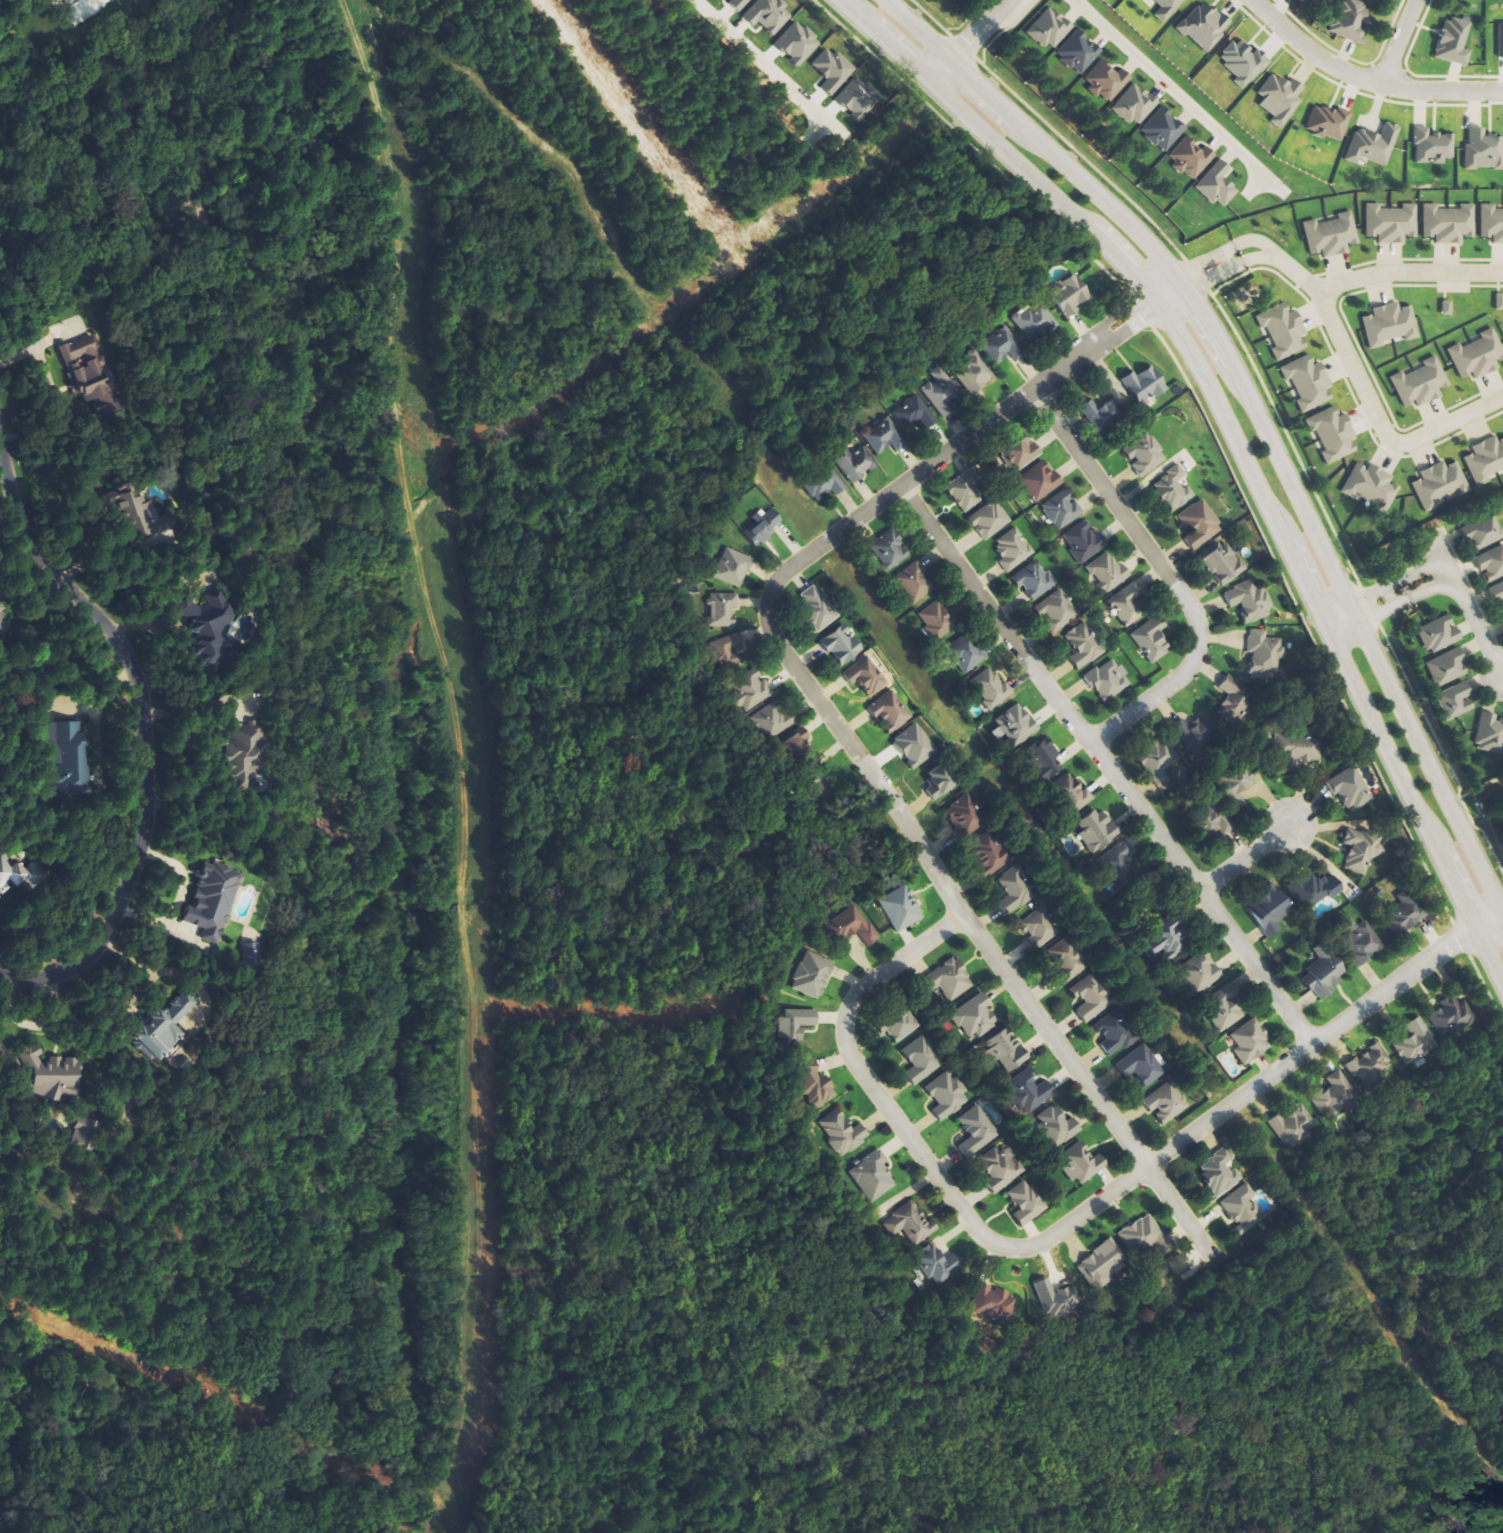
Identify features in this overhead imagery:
building: (739, 3)
building: (1167, 9)
road: (921, 12)
building: (769, 15)
building: (1350, 20)
building: (1204, 26)
building: (1049, 29)
building: (1500, 40)
building: (1453, 41)
road: (967, 42)
road: (1394, 42)
building: (797, 43)
building: (1078, 53)
building: (1243, 62)
building: (833, 70)
building: (1106, 80)
road: (1363, 80)
road: (1173, 95)
building: (1279, 98)
building: (858, 99)
building: (1134, 105)
building: (1328, 122)
building: (1162, 129)
building: (1372, 145)
building: (1432, 146)
building: (1483, 150)
building: (1190, 158)
building: (1217, 185)
building: (1391, 223)
building: (1448, 223)
building: (1492, 223)
building: (1331, 235)
road: (1250, 249)
road: (1408, 272)
building: (1069, 296)
building: (1499, 302)
building: (1447, 308)
building: (1035, 320)
building: (1390, 324)
building: (1284, 331)
building: (1004, 346)
building: (1478, 356)
building: (976, 374)
building: (88, 376)
building: (1308, 383)
building: (1421, 384)
building: (1144, 385)
building: (942, 392)
building: (914, 413)
building: (1103, 414)
road: (1255, 415)
road: (1379, 424)
building: (1333, 434)
building: (884, 436)
road: (1236, 447)
building: (1022, 454)
building: (1145, 455)
building: (1486, 461)
building: (856, 462)
building: (1040, 481)
building: (825, 485)
building: (1439, 485)
building: (1372, 486)
building: (1172, 490)
building: (966, 492)
building: (1062, 509)
building: (137, 511)
building: (990, 520)
building: (1199, 525)
building: (763, 526)
building: (1483, 533)
building: (1084, 541)
building: (890, 550)
building: (1013, 550)
road: (1439, 551)
building: (1222, 563)
building: (1492, 565)
building: (733, 568)
road: (1440, 571)
road: (1166, 572)
building: (1107, 573)
building: (1034, 580)
building: (914, 583)
building: (1498, 596)
building: (1250, 601)
building: (1128, 606)
building: (818, 609)
building: (722, 610)
building: (1057, 611)
building: (937, 620)
building: (3, 622)
building: (212, 628)
building: (1439, 635)
building: (1152, 639)
building: (842, 646)
building: (1085, 646)
building: (1264, 653)
building: (729, 654)
building: (967, 654)
building: (1447, 668)
building: (866, 676)
building: (1109, 680)
building: (991, 689)
building: (752, 690)
building: (1233, 698)
building: (1456, 701)
road: (833, 711)
building: (891, 712)
building: (770, 721)
building: (1014, 726)
road: (140, 729)
building: (1197, 735)
building: (1490, 736)
building: (915, 746)
building: (250, 750)
building: (795, 750)
building: (1295, 751)
building: (67, 754)
road: (1109, 764)
building: (1162, 766)
building: (1057, 776)
building: (939, 783)
building: (1349, 789)
building: (963, 817)
building: (1216, 821)
building: (1096, 831)
building: (1362, 849)
building: (989, 854)
road: (1250, 856)
building: (1118, 860)
building: (17, 874)
building: (1016, 890)
building: (1315, 890)
building: (214, 901)
building: (901, 909)
building: (1271, 909)
building: (1406, 913)
road: (1502, 917)
building: (851, 926)
building: (1038, 928)
building: (1171, 938)
building: (1362, 944)
building: (1069, 960)
building: (1200, 973)
building: (1324, 973)
building: (813, 976)
building: (953, 979)
building: (1091, 998)
building: (1225, 1008)
building: (1453, 1017)
building: (976, 1018)
building: (796, 1024)
building: (901, 1027)
building: (165, 1029)
building: (1115, 1033)
building: (1250, 1042)
building: (1415, 1042)
building: (1007, 1053)
building: (921, 1060)
building: (1141, 1066)
building: (1368, 1066)
building: (52, 1074)
building: (816, 1087)
building: (1030, 1091)
building: (947, 1096)
building: (1333, 1097)
building: (1166, 1103)
building: (1057, 1126)
building: (1293, 1127)
building: (976, 1131)
building: (843, 1133)
building: (84, 1135)
building: (1081, 1164)
building: (1001, 1168)
building: (1219, 1173)
building: (873, 1177)
building: (1027, 1203)
building: (1244, 1210)
road: (1073, 1224)
building: (911, 1226)
building: (1145, 1236)
building: (1180, 1263)
building: (938, 1264)
building: (1102, 1264)
building: (1057, 1299)
building: (994, 1303)

